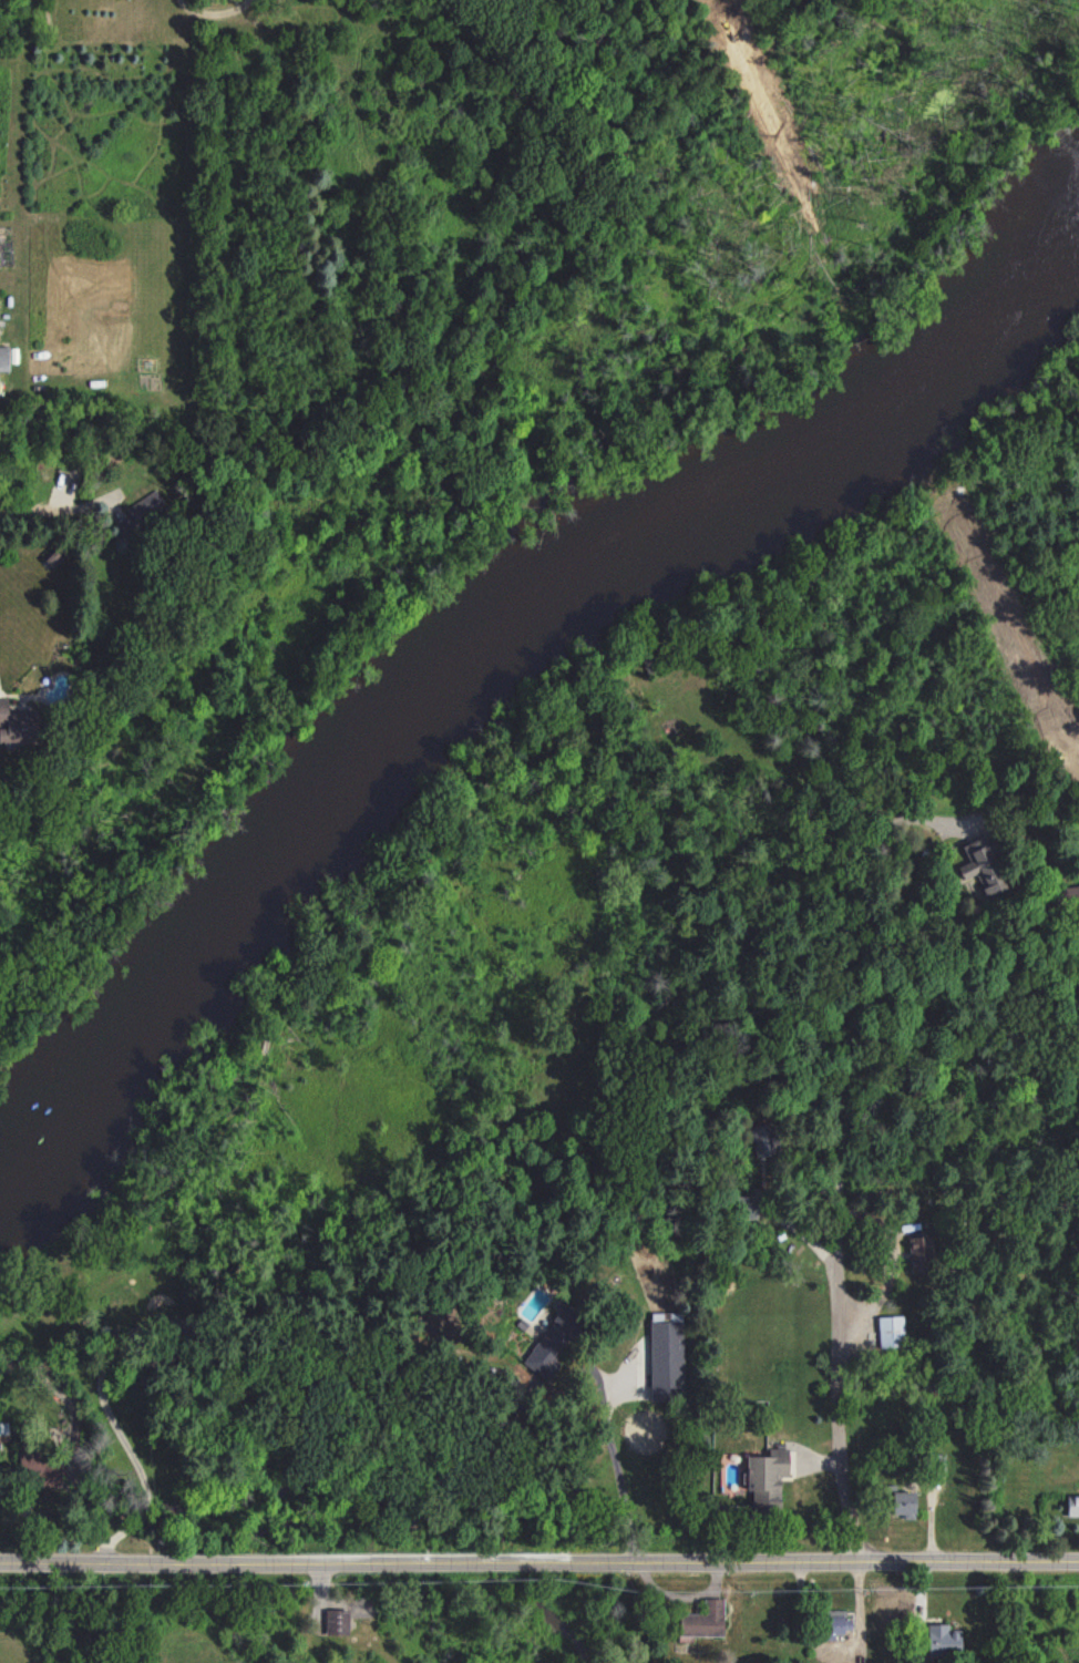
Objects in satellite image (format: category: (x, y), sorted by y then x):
road: (213, 14)
building: (4, 358)
building: (142, 514)
road: (62, 519)
river: (499, 632)
building: (17, 723)
building: (982, 865)
building: (1067, 895)
building: (763, 1140)
road: (837, 1181)
building: (744, 1207)
building: (919, 1253)
road: (884, 1290)
building: (892, 1332)
building: (554, 1342)
building: (666, 1361)
building: (3, 1433)
road: (614, 1461)
road: (134, 1462)
building: (39, 1467)
building: (765, 1477)
building: (901, 1501)
building: (1072, 1506)
road: (539, 1564)
building: (337, 1621)
building: (702, 1621)
building: (835, 1623)
building: (943, 1640)

